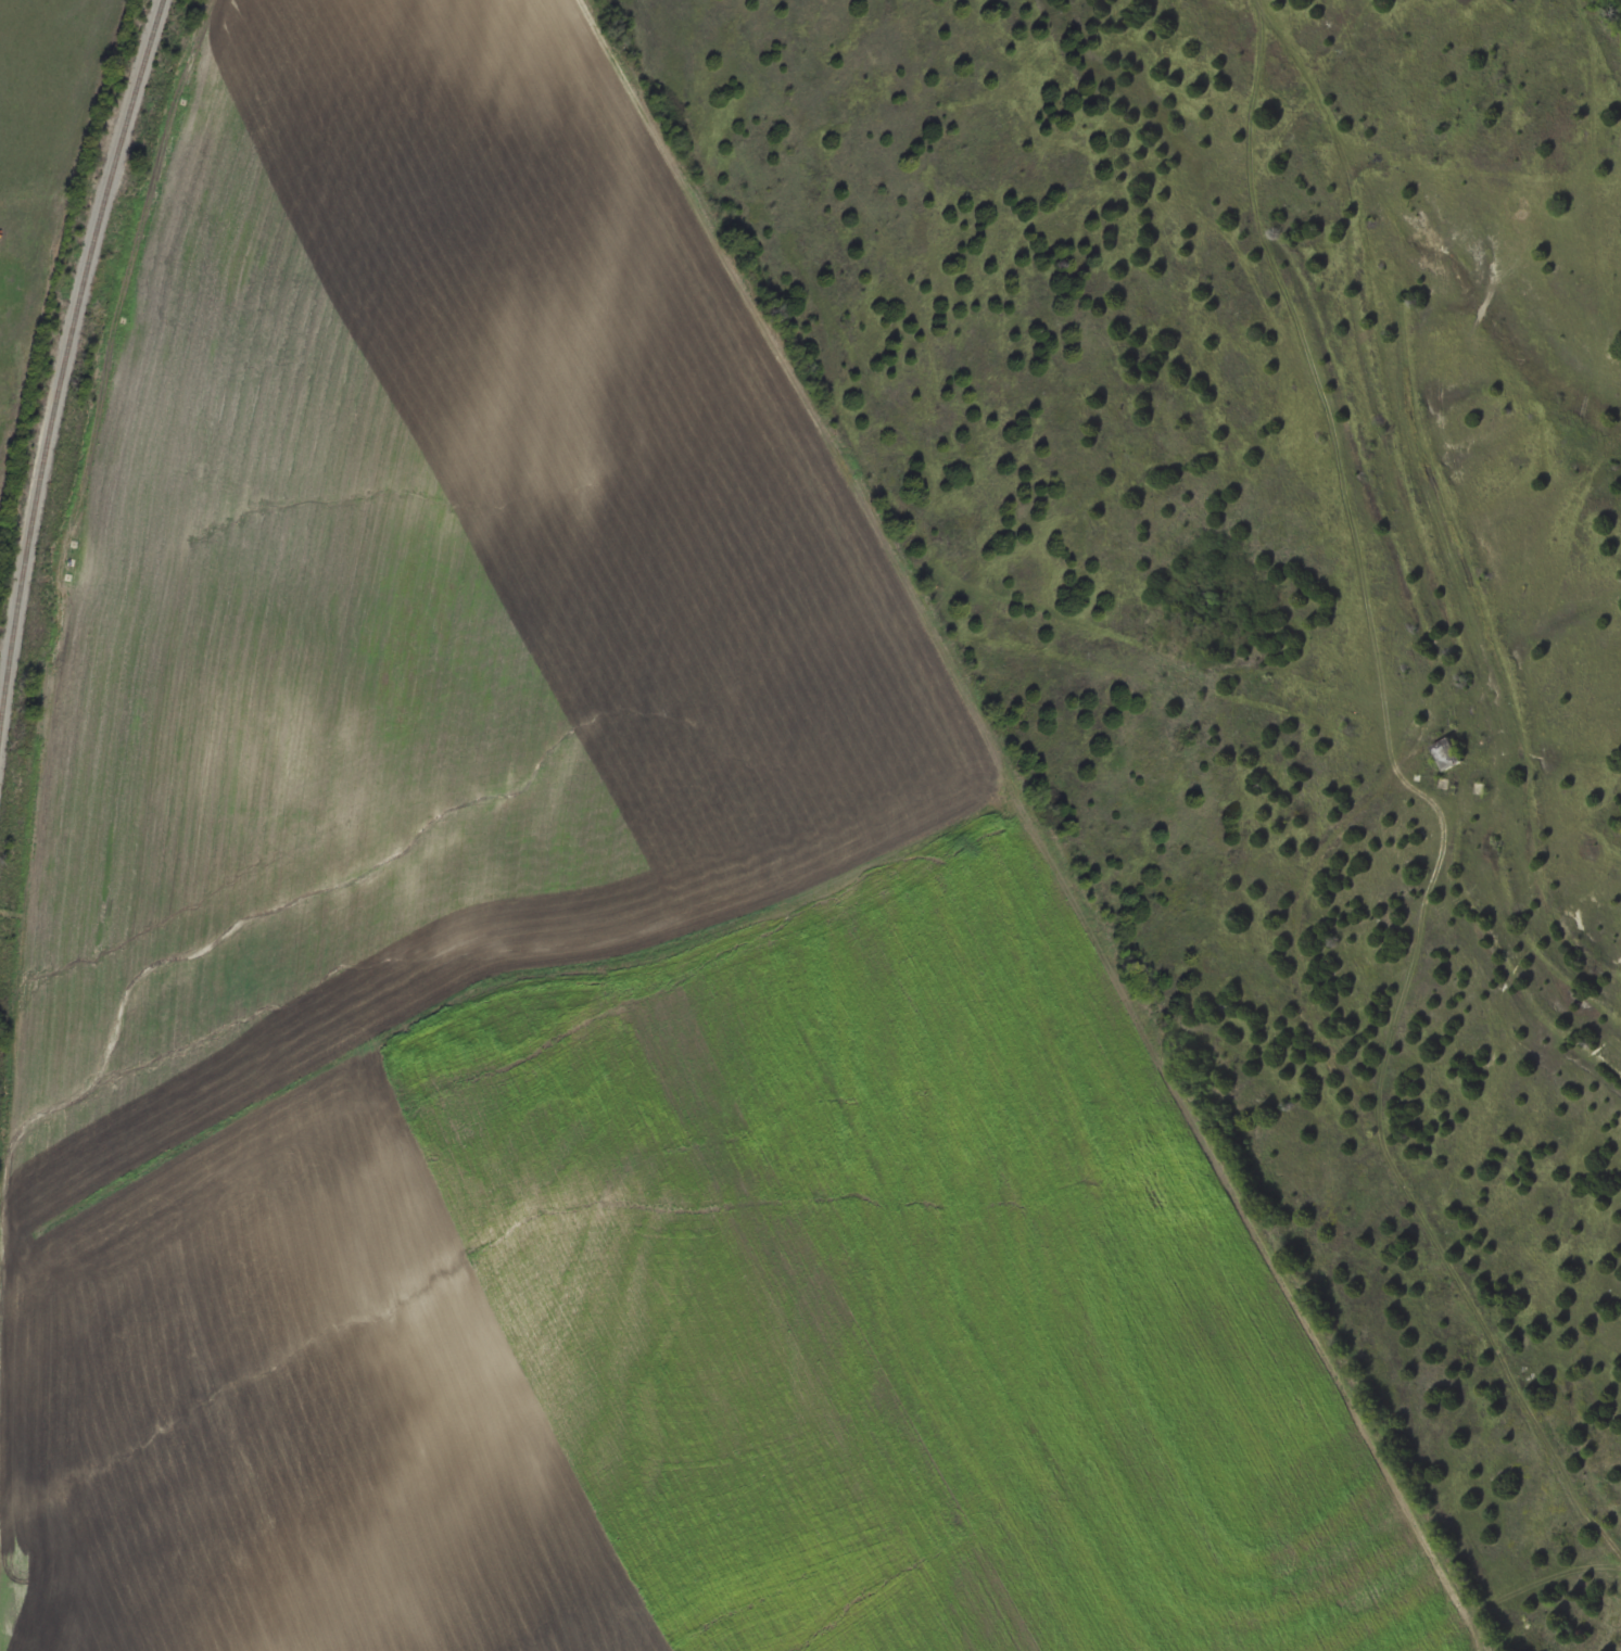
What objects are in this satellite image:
railway: (65, 367)
building: (1446, 754)

